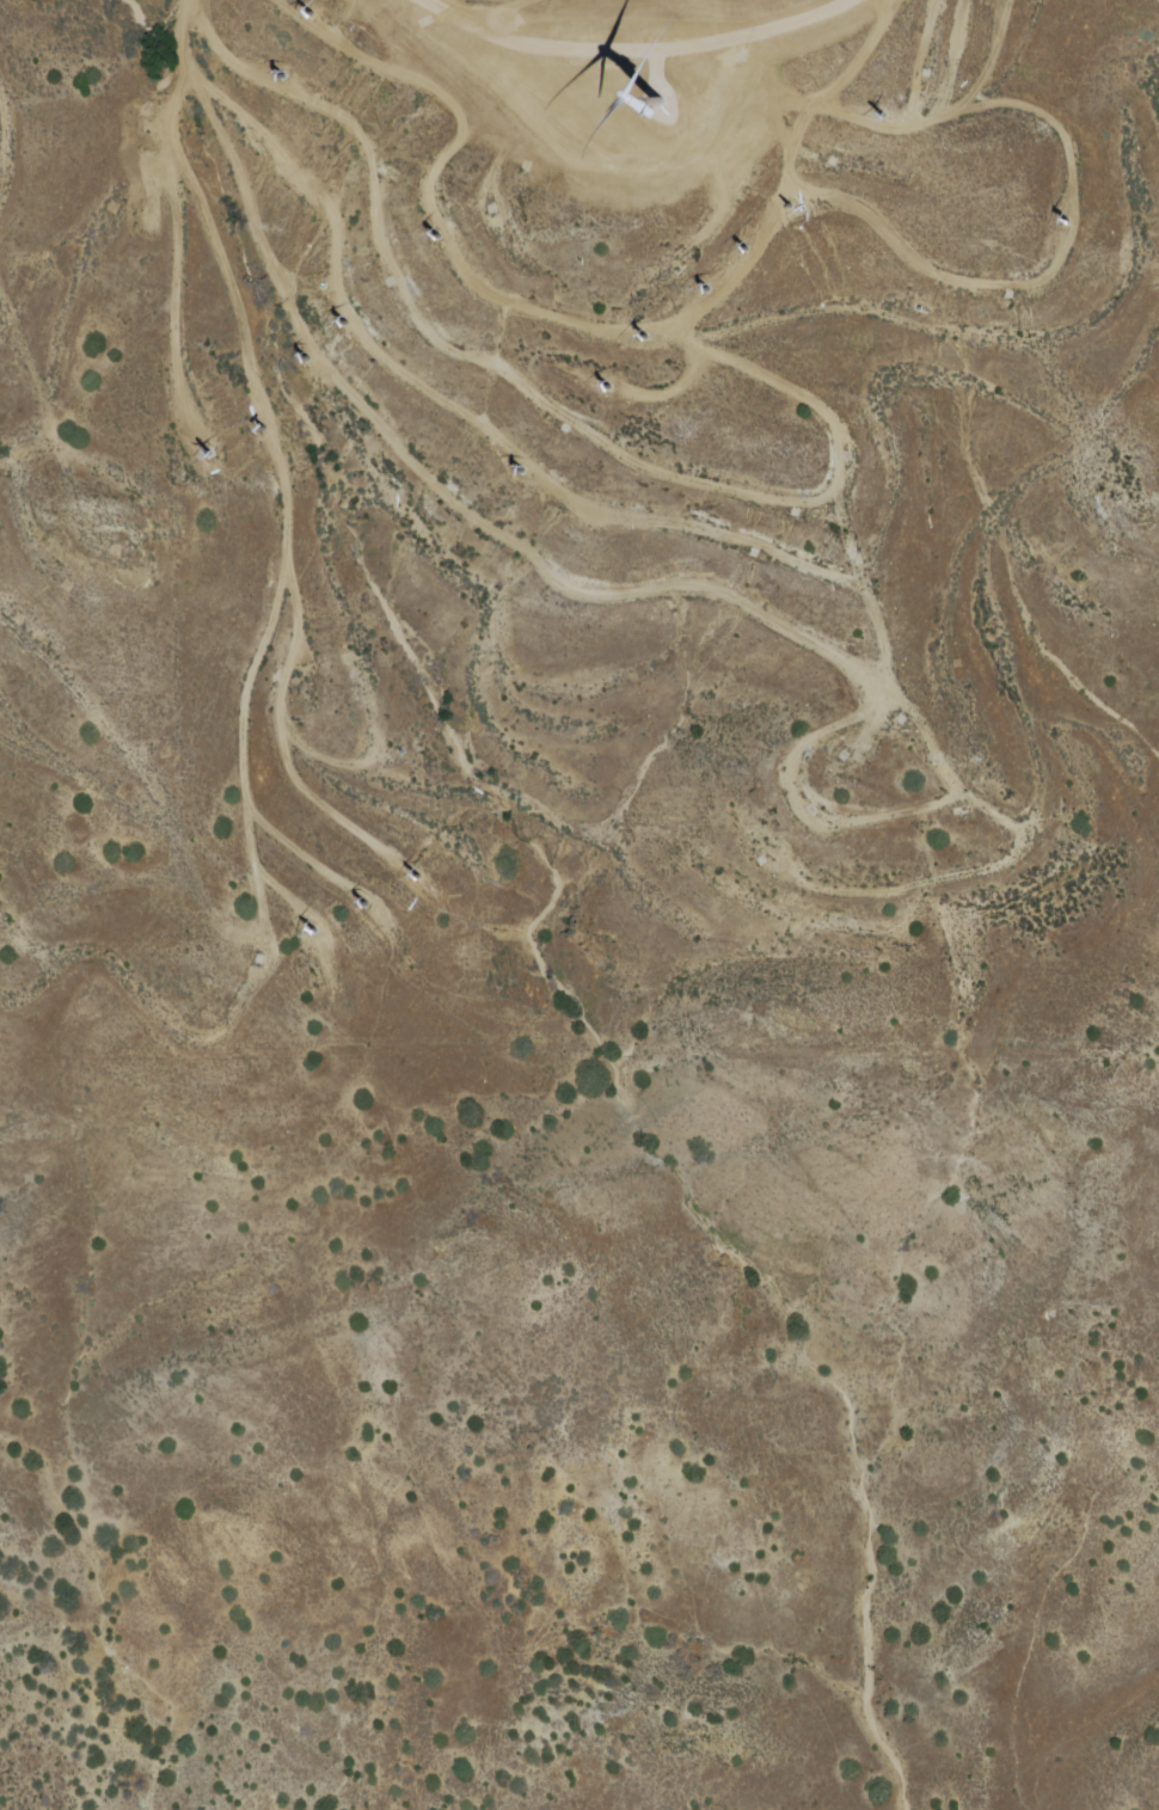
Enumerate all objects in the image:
wind turbine: (307, 17)
wind turbine: (277, 76)
wind turbine: (663, 112)
wind turbine: (883, 115)
wind turbine: (792, 204)
wind turbine: (1067, 225)
wind turbine: (437, 240)
wind turbine: (747, 250)
wind turbine: (706, 293)
wind turbine: (343, 325)
wind turbine: (646, 338)
wind turbine: (311, 364)
wind turbine: (607, 391)
wind turbine: (262, 429)
wind turbine: (208, 455)
wind turbine: (527, 472)
wind turbine: (415, 882)
wind turbine: (364, 907)
wind turbine: (314, 935)
wind turbine: (258, 959)

